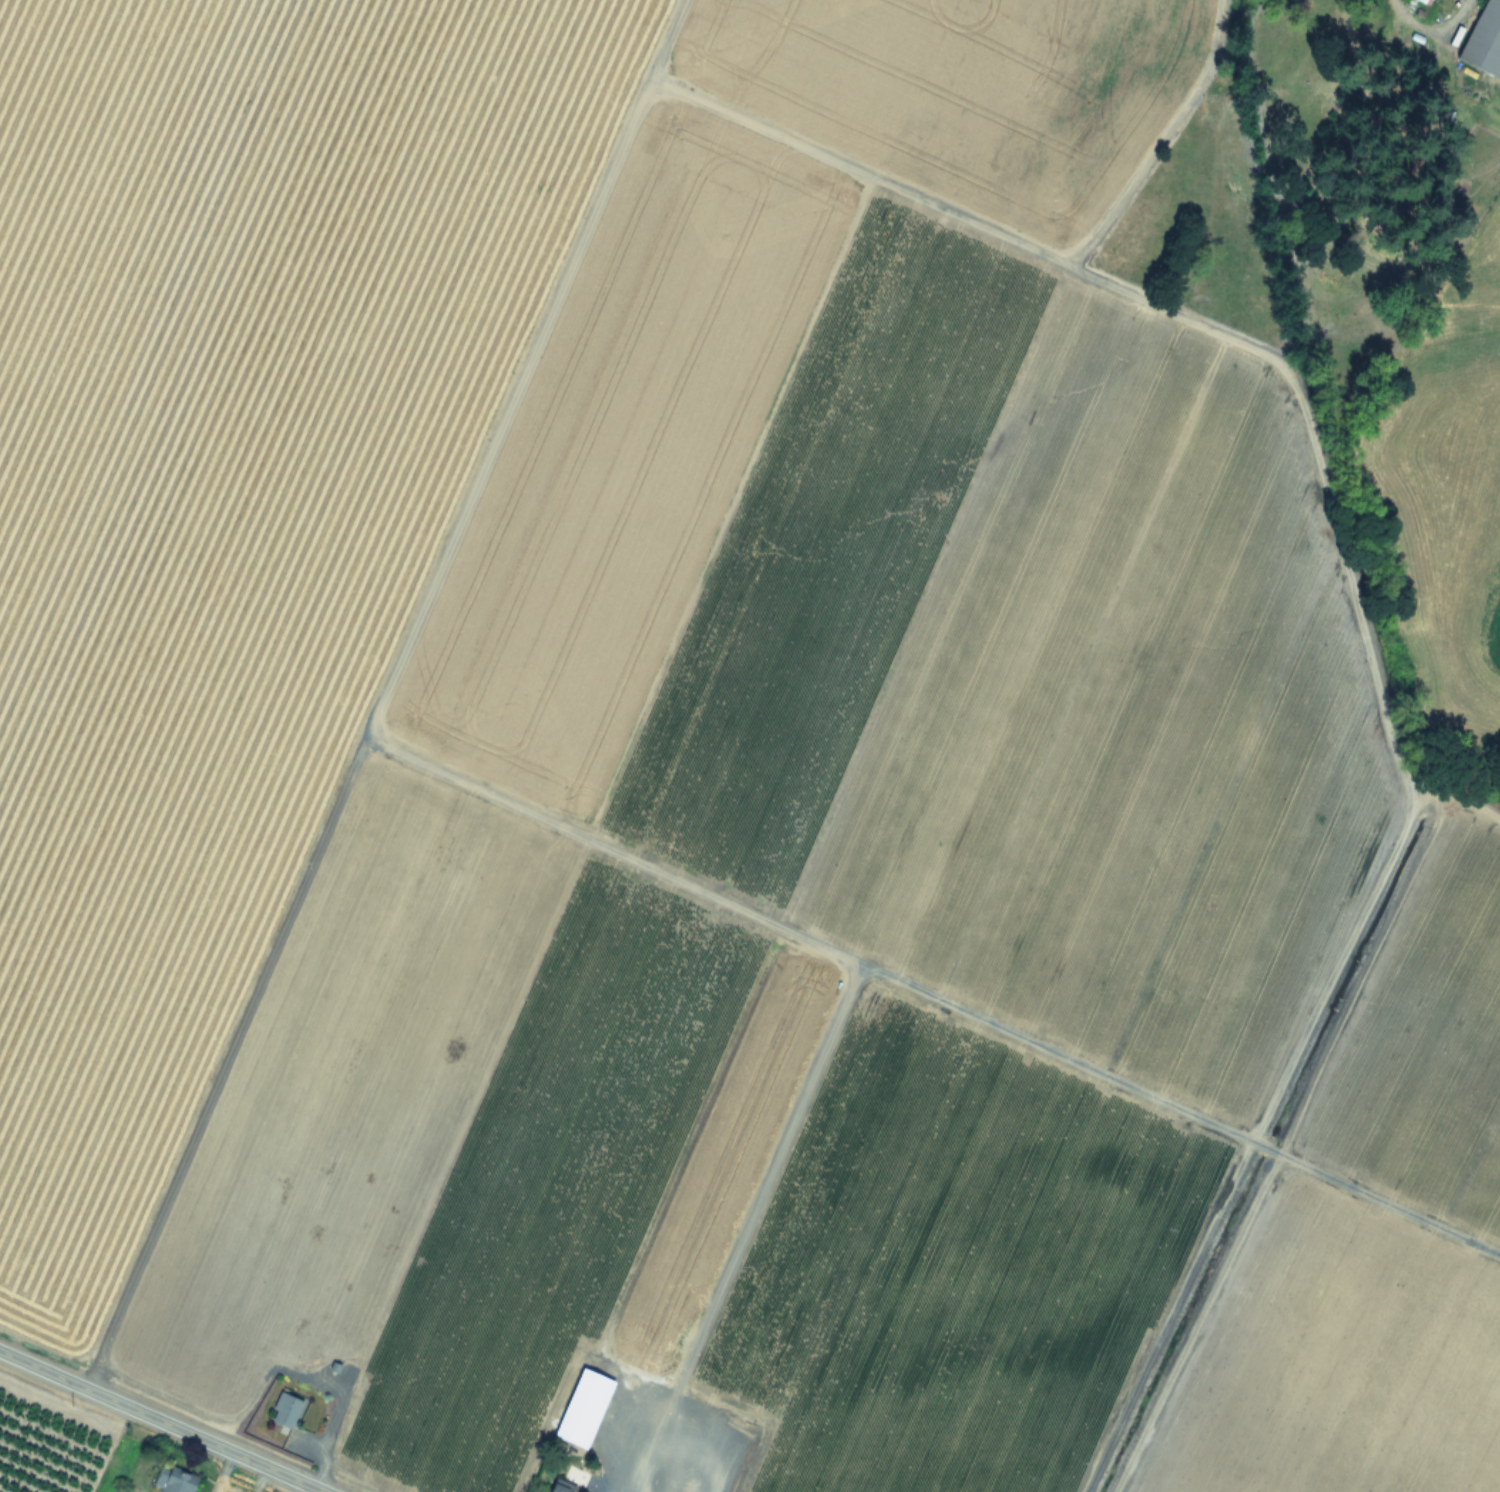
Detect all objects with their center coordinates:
building: (1484, 40)
crop: (759, 735)
building: (582, 1408)
building: (284, 1410)
road: (335, 1413)
road: (161, 1421)
crop: (84, 1455)
building: (177, 1481)
building: (560, 1486)

